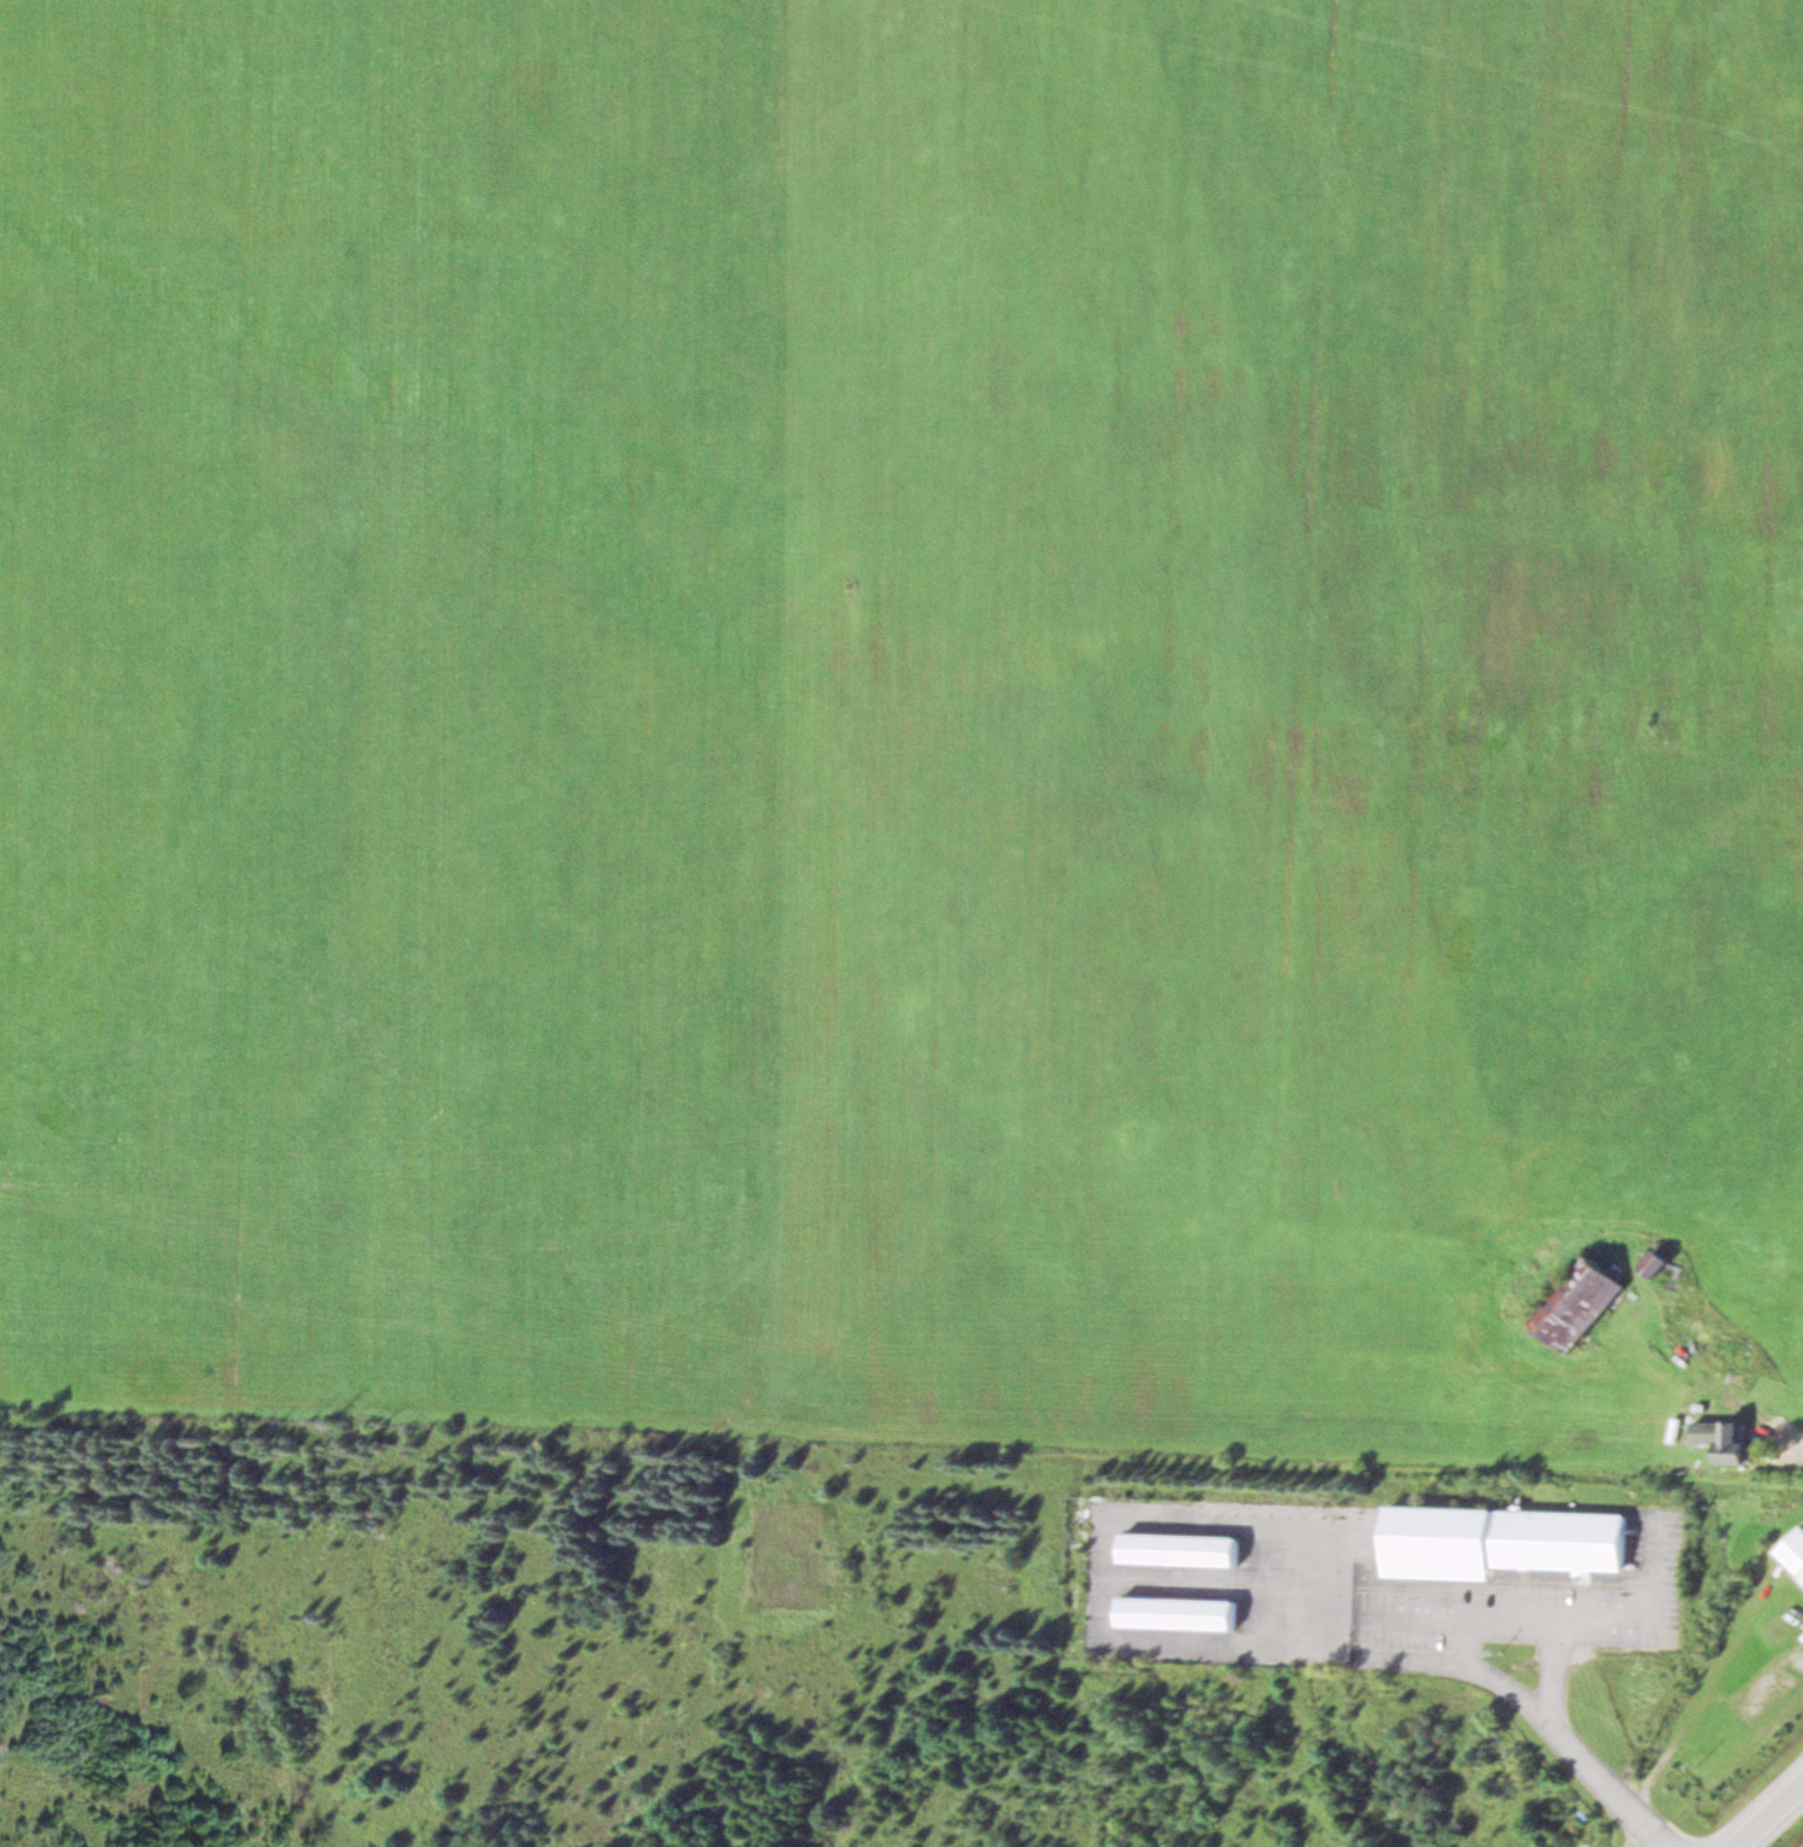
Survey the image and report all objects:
building: (1662, 1269)
building: (1581, 1304)
building: (1737, 1351)
building: (1708, 1431)
road: (1795, 1433)
building: (1739, 1445)
building: (1276, 1507)
building: (1504, 1541)
building: (1183, 1548)
building: (1795, 1550)
building: (1180, 1611)
road: (1776, 1820)

